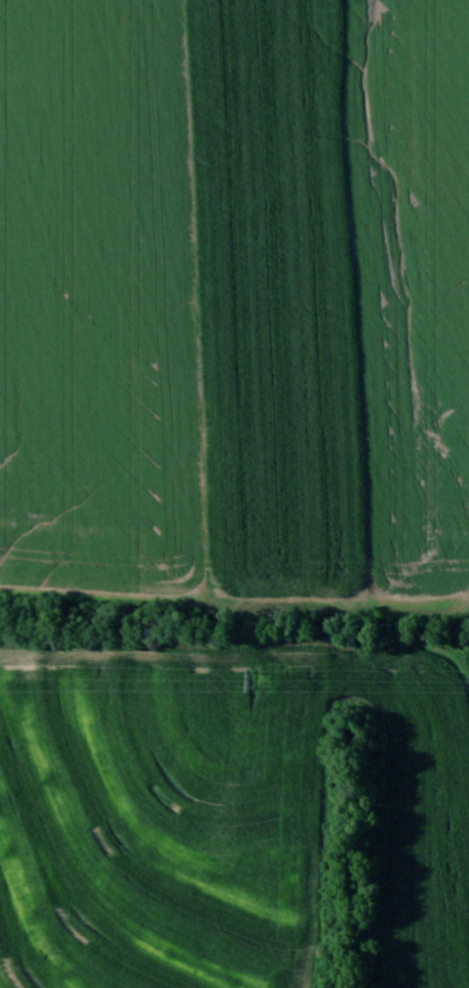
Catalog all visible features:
power tower: (260, 675)

